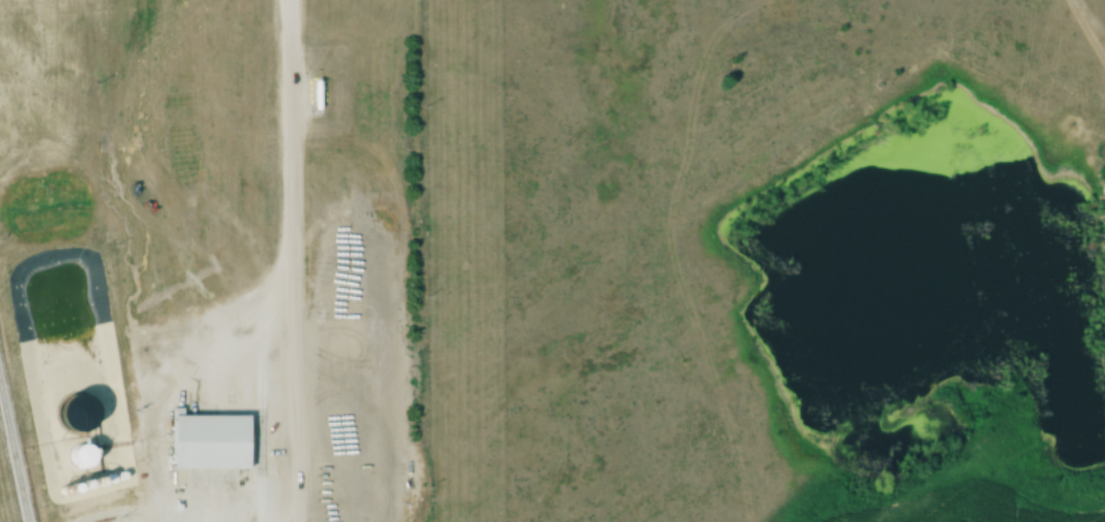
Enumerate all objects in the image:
road: (287, 260)
building: (77, 413)
building: (208, 441)
building: (79, 454)
railway: (13, 456)

